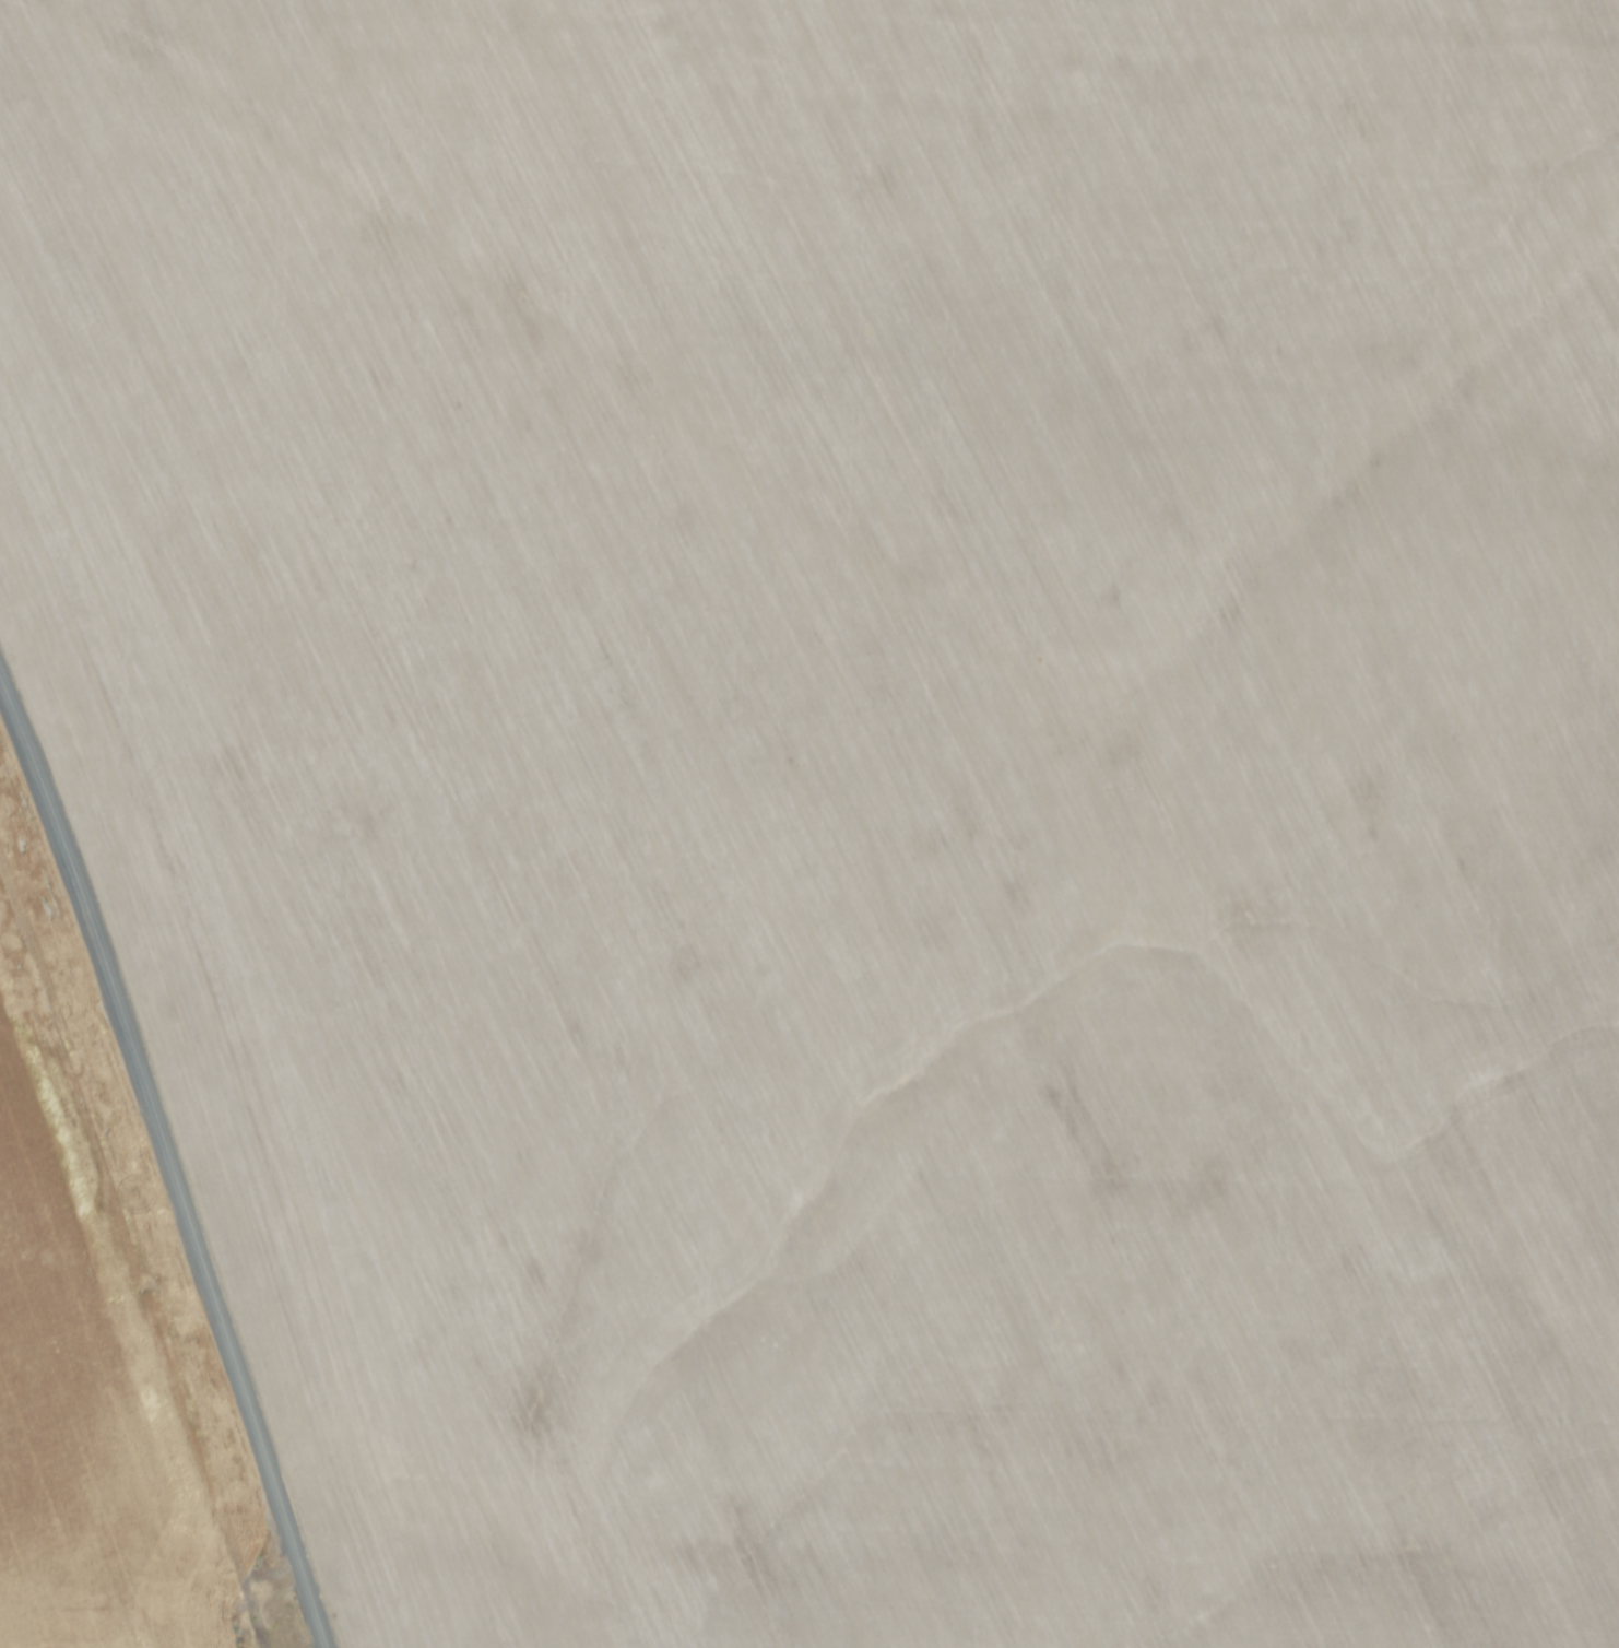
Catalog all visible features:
road: (168, 1169)

